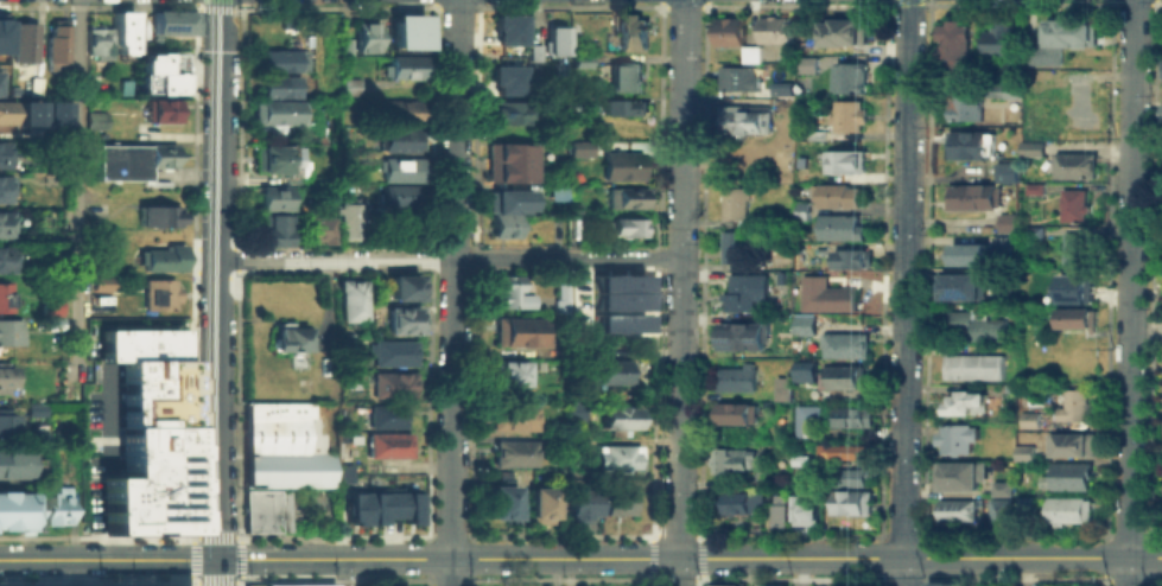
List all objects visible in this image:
building: (170, 19)
building: (119, 26)
building: (507, 28)
building: (773, 30)
building: (406, 31)
building: (728, 31)
building: (844, 32)
building: (1, 33)
building: (630, 33)
building: (91, 37)
building: (361, 38)
building: (996, 38)
building: (553, 39)
building: (1058, 39)
building: (23, 42)
building: (953, 43)
building: (56, 44)
building: (532, 56)
building: (282, 59)
building: (806, 64)
building: (402, 66)
building: (1012, 69)
building: (1161, 69)
building: (739, 71)
building: (154, 72)
building: (623, 76)
building: (504, 77)
building: (849, 77)
building: (0, 84)
building: (34, 84)
building: (350, 85)
building: (782, 88)
building: (13, 89)
building: (1002, 91)
building: (278, 101)
building: (623, 107)
building: (965, 108)
building: (1078, 108)
building: (1161, 108)
building: (164, 109)
building: (984, 110)
building: (6, 112)
building: (27, 112)
building: (402, 112)
building: (508, 112)
building: (847, 116)
building: (743, 117)
building: (96, 120)
building: (815, 132)
building: (401, 140)
building: (967, 146)
building: (580, 147)
building: (1029, 148)
building: (2, 153)
building: (275, 158)
building: (131, 160)
building: (843, 160)
building: (513, 161)
building: (782, 161)
building: (622, 165)
building: (399, 166)
building: (1072, 166)
building: (1004, 171)
road: (80, 179)
building: (1036, 186)
building: (5, 189)
building: (833, 192)
building: (398, 195)
building: (273, 197)
building: (627, 197)
building: (971, 197)
building: (732, 203)
building: (1073, 205)
building: (504, 210)
building: (798, 211)
building: (158, 216)
building: (348, 219)
building: (1004, 221)
building: (5, 224)
building: (624, 225)
building: (838, 227)
building: (318, 228)
building: (269, 229)
building: (1033, 230)
building: (1004, 237)
building: (728, 244)
building: (1071, 248)
building: (969, 254)
road: (564, 256)
road: (334, 257)
building: (852, 257)
building: (160, 259)
building: (6, 260)
building: (774, 266)
building: (779, 276)
road: (677, 278)
road: (1129, 278)
road: (216, 279)
road: (452, 279)
road: (904, 279)
building: (617, 282)
building: (1071, 282)
building: (103, 284)
building: (960, 284)
building: (402, 288)
building: (742, 289)
building: (508, 293)
building: (821, 294)
building: (158, 295)
building: (5, 298)
building: (559, 299)
building: (617, 299)
building: (351, 300)
building: (52, 313)
building: (1077, 319)
building: (401, 320)
building: (617, 321)
building: (976, 325)
building: (802, 326)
building: (11, 332)
building: (519, 332)
building: (742, 336)
building: (282, 337)
building: (844, 345)
building: (389, 353)
building: (293, 361)
building: (972, 367)
building: (801, 370)
building: (508, 374)
building: (604, 374)
building: (840, 377)
building: (6, 378)
building: (734, 378)
building: (389, 386)
building: (780, 387)
building: (966, 403)
building: (1071, 405)
building: (274, 408)
building: (573, 412)
building: (615, 414)
building: (508, 415)
building: (735, 415)
building: (386, 416)
building: (850, 418)
building: (805, 419)
building: (1028, 420)
building: (8, 425)
building: (147, 433)
building: (955, 438)
building: (544, 439)
building: (573, 442)
building: (1069, 445)
building: (388, 446)
building: (509, 451)
building: (843, 451)
building: (284, 452)
building: (1023, 452)
building: (616, 456)
building: (737, 457)
building: (718, 458)
building: (795, 458)
building: (13, 461)
building: (342, 472)
building: (961, 473)
building: (1069, 477)
building: (850, 478)
building: (1003, 486)
building: (502, 503)
building: (618, 503)
building: (739, 503)
building: (851, 503)
building: (380, 504)
building: (36, 505)
building: (582, 505)
building: (540, 507)
building: (799, 507)
building: (1024, 507)
building: (263, 508)
building: (777, 508)
building: (1065, 509)
building: (957, 510)
building: (999, 514)
road: (96, 535)
road: (216, 535)
road: (240, 535)
road: (192, 536)
road: (919, 556)
road: (192, 558)
road: (240, 558)
road: (108, 559)
traffic signals: (217, 559)
road: (446, 559)
road: (1126, 571)
road: (217, 572)
road: (451, 572)
road: (675, 572)
road: (901, 572)
road: (216, 580)
road: (241, 580)
road: (95, 581)
road: (191, 581)
road: (239, 582)
building: (936, 582)
road: (192, 584)
building: (292, 584)
building: (720, 584)
building: (774, 585)

